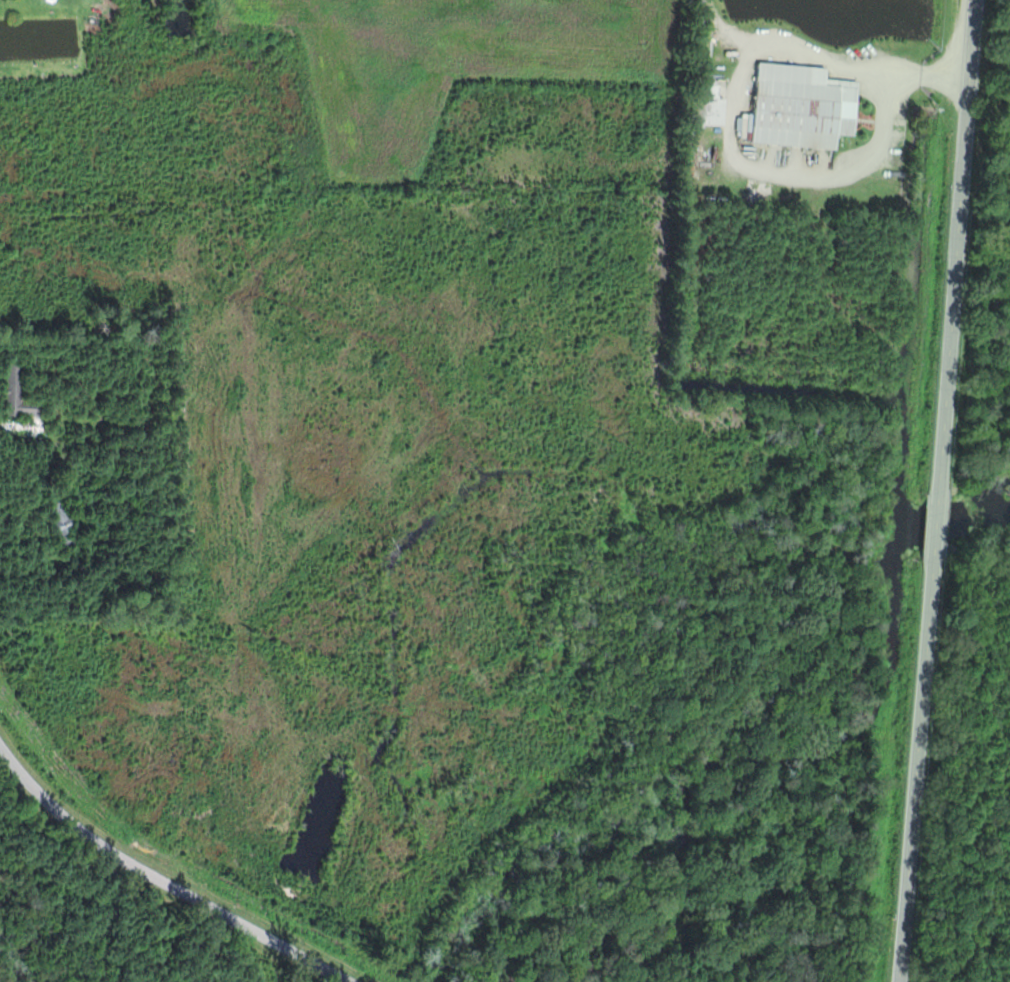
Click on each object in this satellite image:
building: (806, 107)
building: (714, 112)
building: (20, 394)
road: (939, 491)
building: (67, 523)
road: (159, 881)

